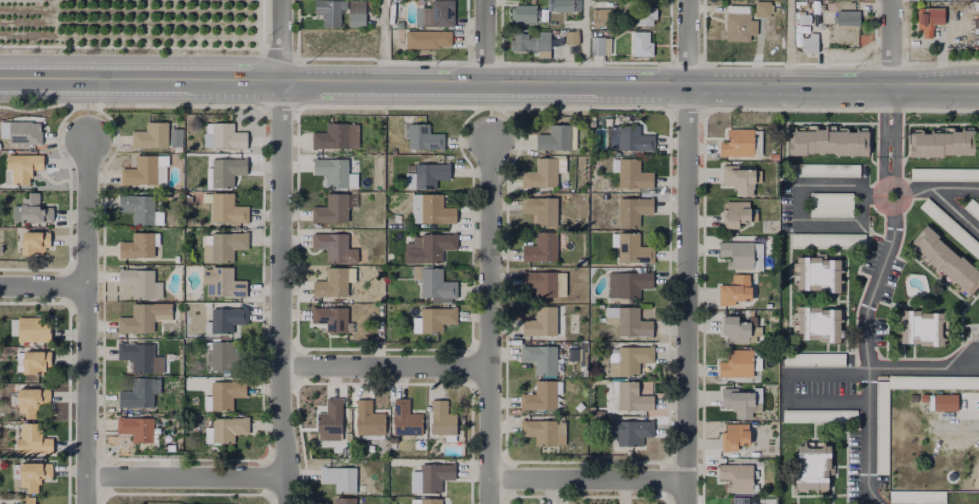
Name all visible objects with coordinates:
building: (960, 0)
building: (564, 5)
building: (761, 9)
building: (330, 10)
building: (525, 12)
building: (357, 13)
building: (438, 14)
building: (601, 15)
building: (646, 15)
building: (848, 17)
building: (930, 18)
building: (738, 21)
building: (572, 37)
building: (428, 38)
road: (282, 41)
building: (530, 41)
road: (382, 42)
road: (488, 43)
road: (584, 43)
building: (642, 43)
building: (811, 43)
road: (687, 44)
road: (788, 44)
road: (890, 44)
building: (601, 46)
road: (140, 81)
road: (385, 84)
road: (587, 87)
road: (833, 88)
road: (895, 122)
building: (24, 132)
building: (151, 135)
building: (178, 135)
building: (335, 135)
road: (881, 135)
building: (228, 136)
building: (424, 137)
building: (558, 137)
building: (630, 138)
building: (742, 142)
building: (829, 143)
building: (943, 144)
building: (22, 168)
building: (825, 169)
road: (894, 169)
building: (145, 170)
building: (227, 170)
building: (332, 170)
building: (547, 173)
building: (632, 173)
building: (945, 173)
building: (430, 174)
building: (741, 179)
road: (954, 188)
road: (917, 189)
building: (831, 204)
road: (879, 205)
building: (138, 208)
building: (334, 208)
road: (797, 208)
building: (973, 208)
building: (227, 209)
building: (32, 210)
building: (437, 210)
building: (541, 210)
building: (633, 210)
road: (954, 210)
building: (737, 215)
building: (950, 227)
building: (829, 240)
building: (34, 242)
building: (225, 246)
building: (337, 246)
building: (434, 246)
building: (140, 247)
building: (541, 247)
building: (634, 249)
building: (740, 254)
building: (948, 260)
building: (817, 273)
building: (334, 282)
building: (545, 282)
building: (141, 283)
building: (227, 283)
building: (628, 283)
building: (435, 284)
road: (44, 286)
building: (735, 290)
road: (281, 293)
road: (685, 295)
building: (144, 318)
building: (331, 318)
building: (437, 318)
building: (224, 320)
road: (87, 321)
road: (490, 321)
building: (629, 321)
building: (541, 322)
building: (816, 324)
building: (35, 328)
building: (922, 328)
building: (735, 329)
building: (581, 354)
building: (138, 356)
building: (222, 357)
building: (541, 357)
road: (865, 357)
building: (814, 358)
building: (631, 359)
building: (34, 362)
building: (740, 363)
road: (385, 365)
road: (922, 368)
road: (786, 385)
building: (138, 394)
building: (226, 394)
building: (543, 395)
building: (632, 396)
building: (32, 400)
building: (742, 400)
building: (940, 401)
building: (821, 415)
building: (330, 417)
building: (368, 418)
building: (406, 419)
building: (442, 419)
building: (229, 428)
building: (138, 430)
building: (882, 430)
building: (545, 431)
building: (634, 431)
building: (735, 436)
building: (33, 442)
building: (814, 466)
building: (33, 474)
building: (435, 476)
building: (341, 477)
building: (738, 477)
road: (187, 479)
road: (587, 479)
building: (414, 480)
building: (918, 496)
building: (346, 500)
building: (740, 500)
building: (29, 501)
building: (426, 501)

